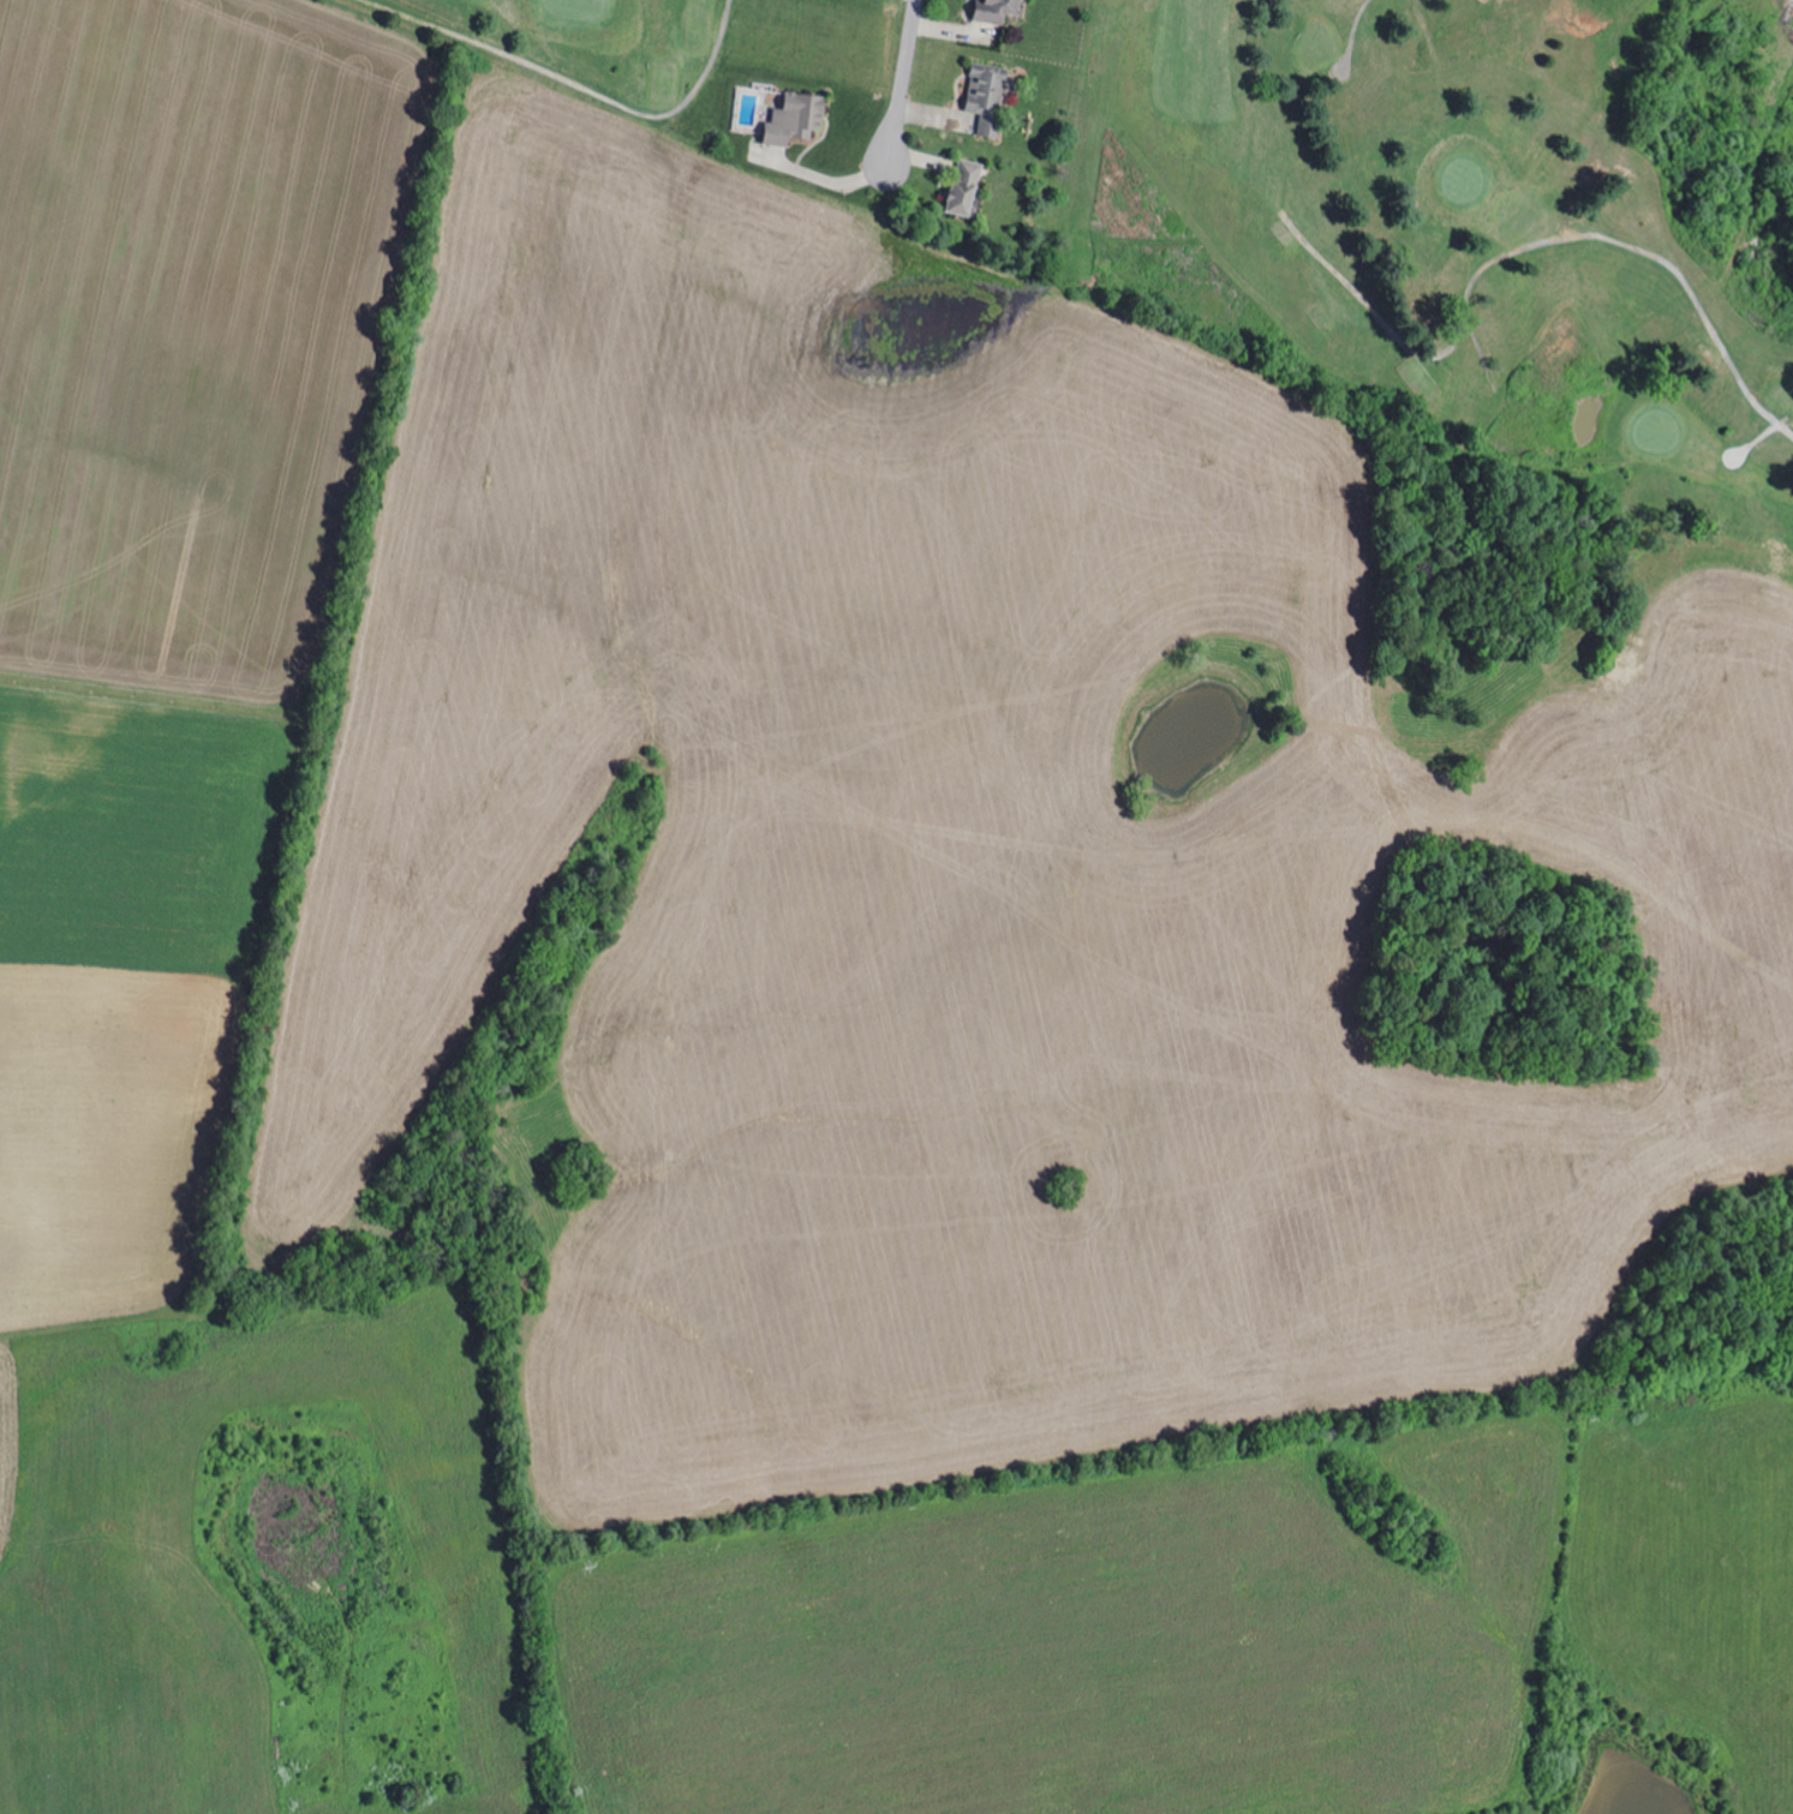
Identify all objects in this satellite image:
building: (996, 11)
park: (586, 49)
road: (900, 85)
building: (988, 97)
building: (781, 113)
building: (969, 187)
park: (1478, 212)

